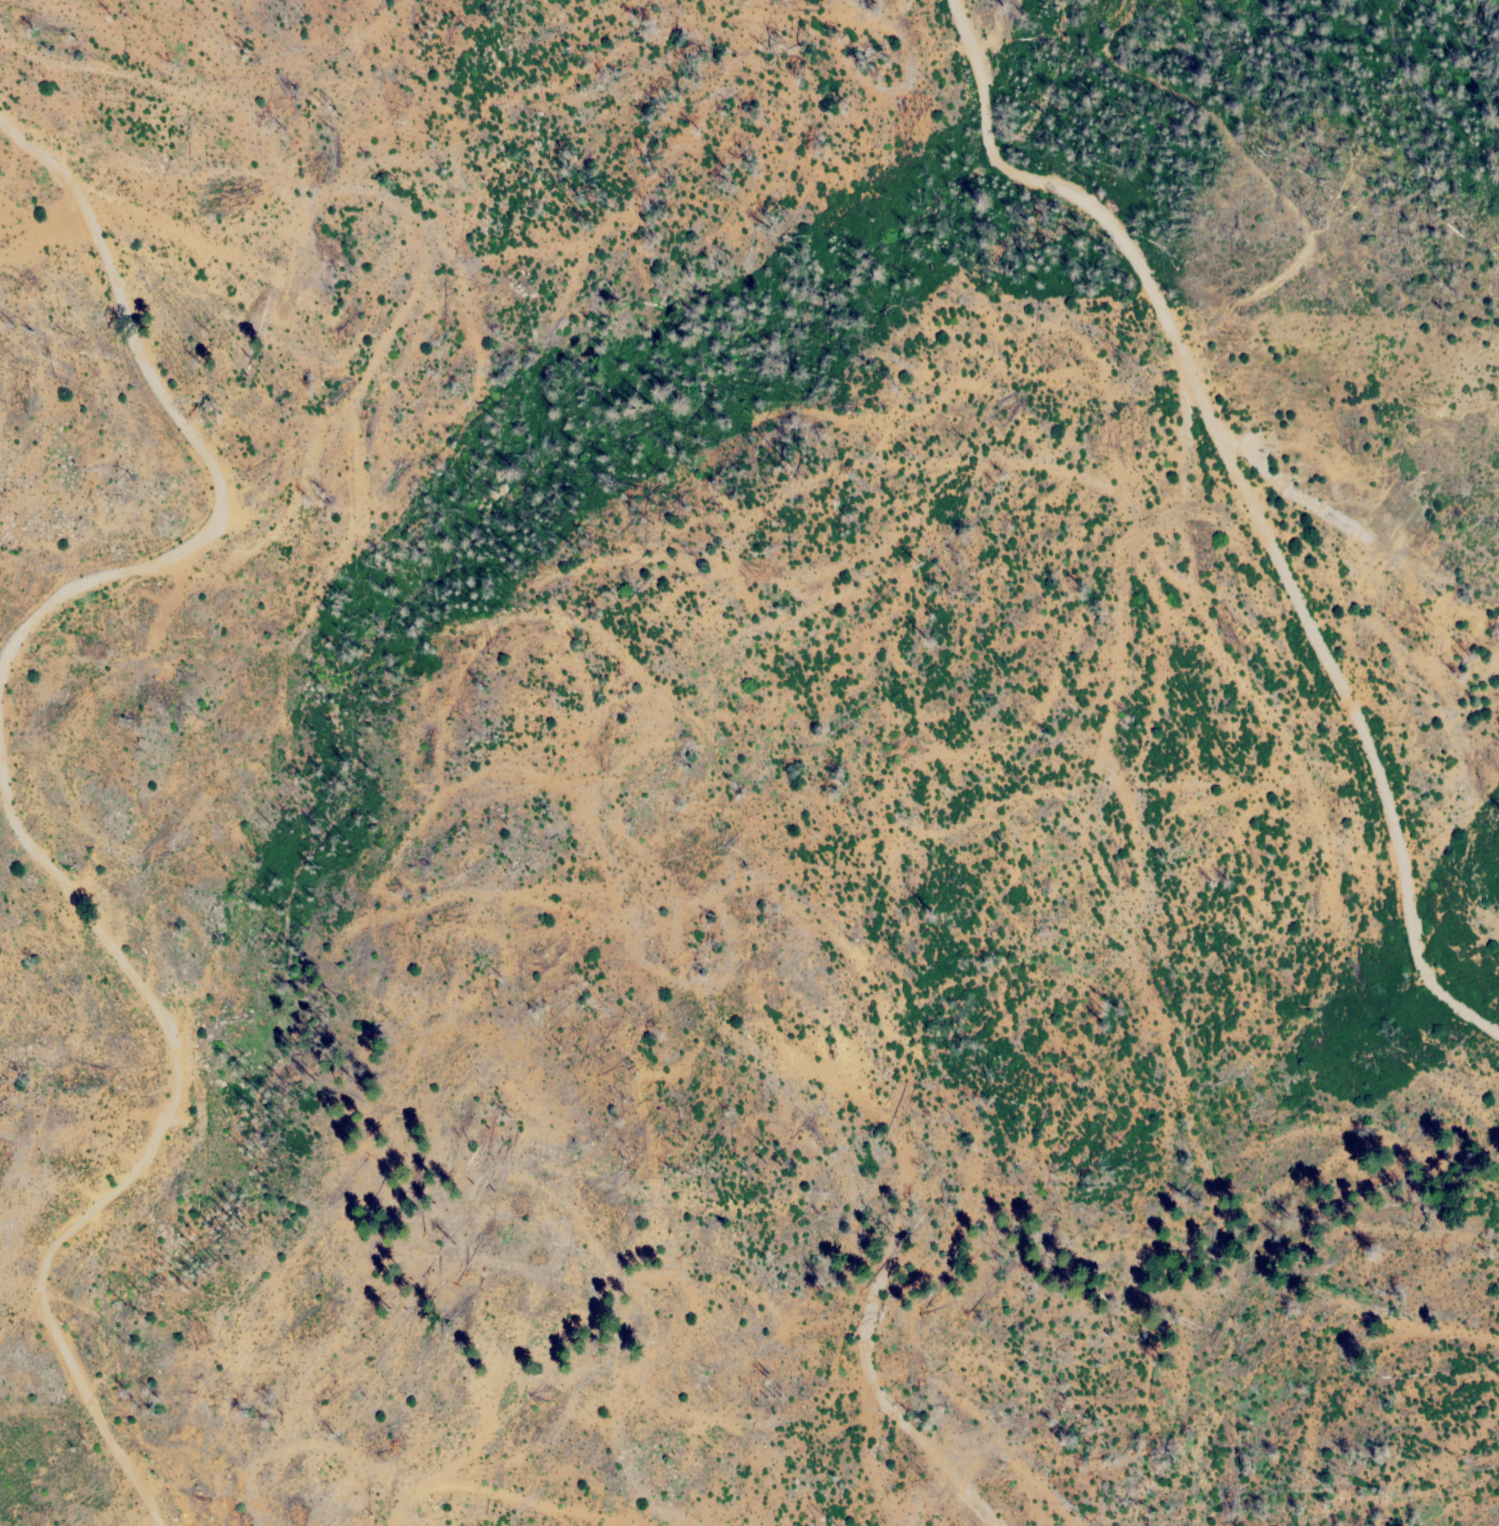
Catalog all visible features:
road: (1247, 507)
road: (10, 788)

